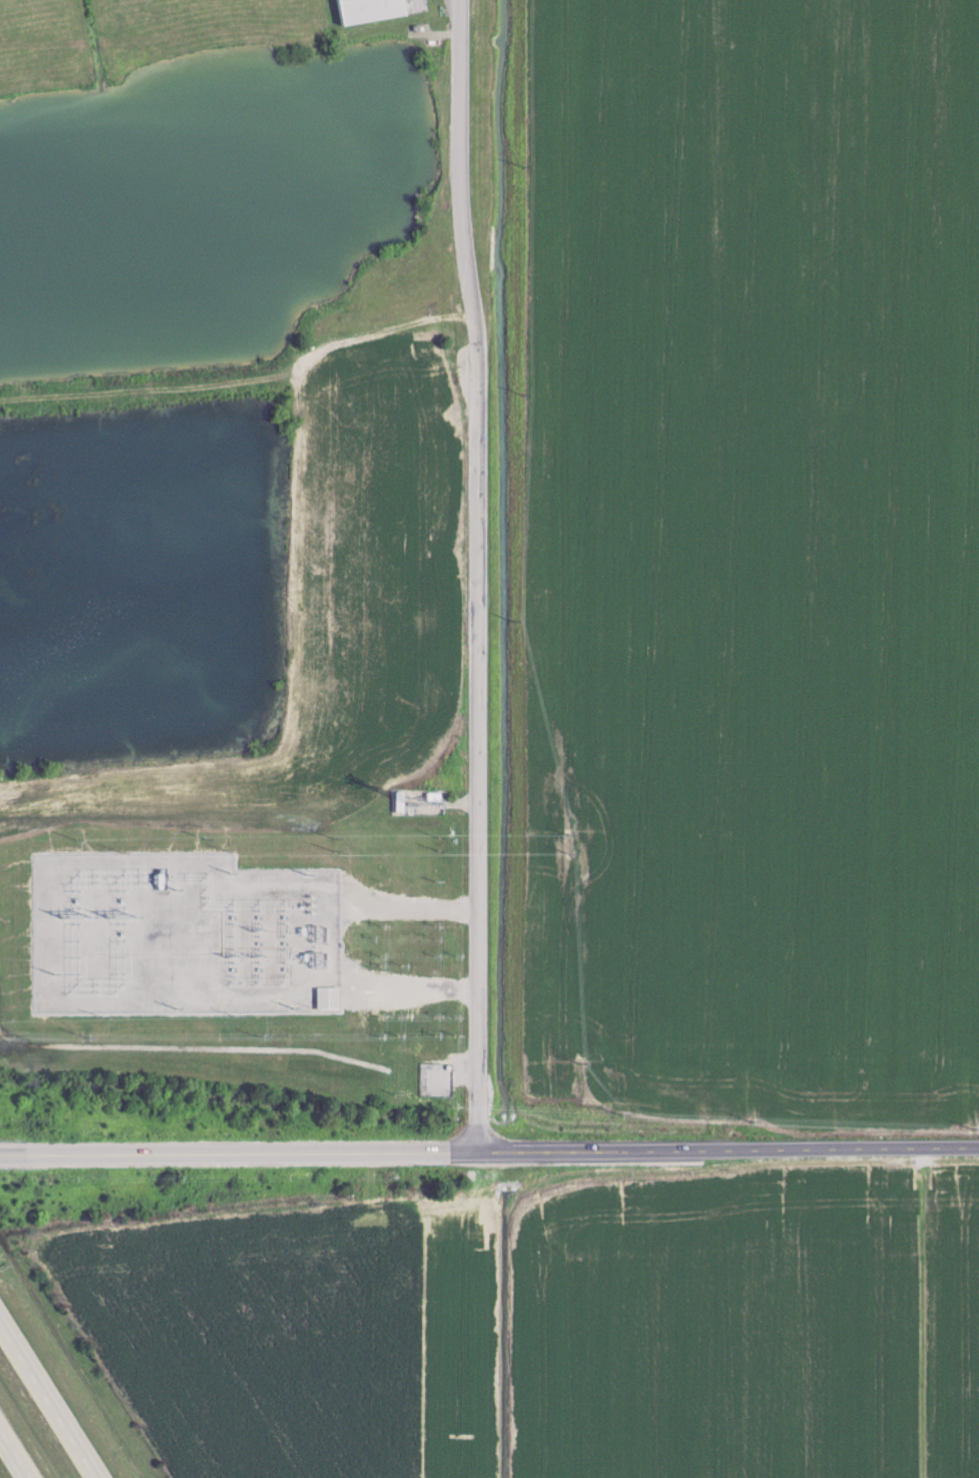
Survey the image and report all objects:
building: (374, 10)
road: (478, 575)
power substation: (181, 935)
building: (331, 999)
road: (489, 1152)
road: (49, 1399)
road: (16, 1451)

